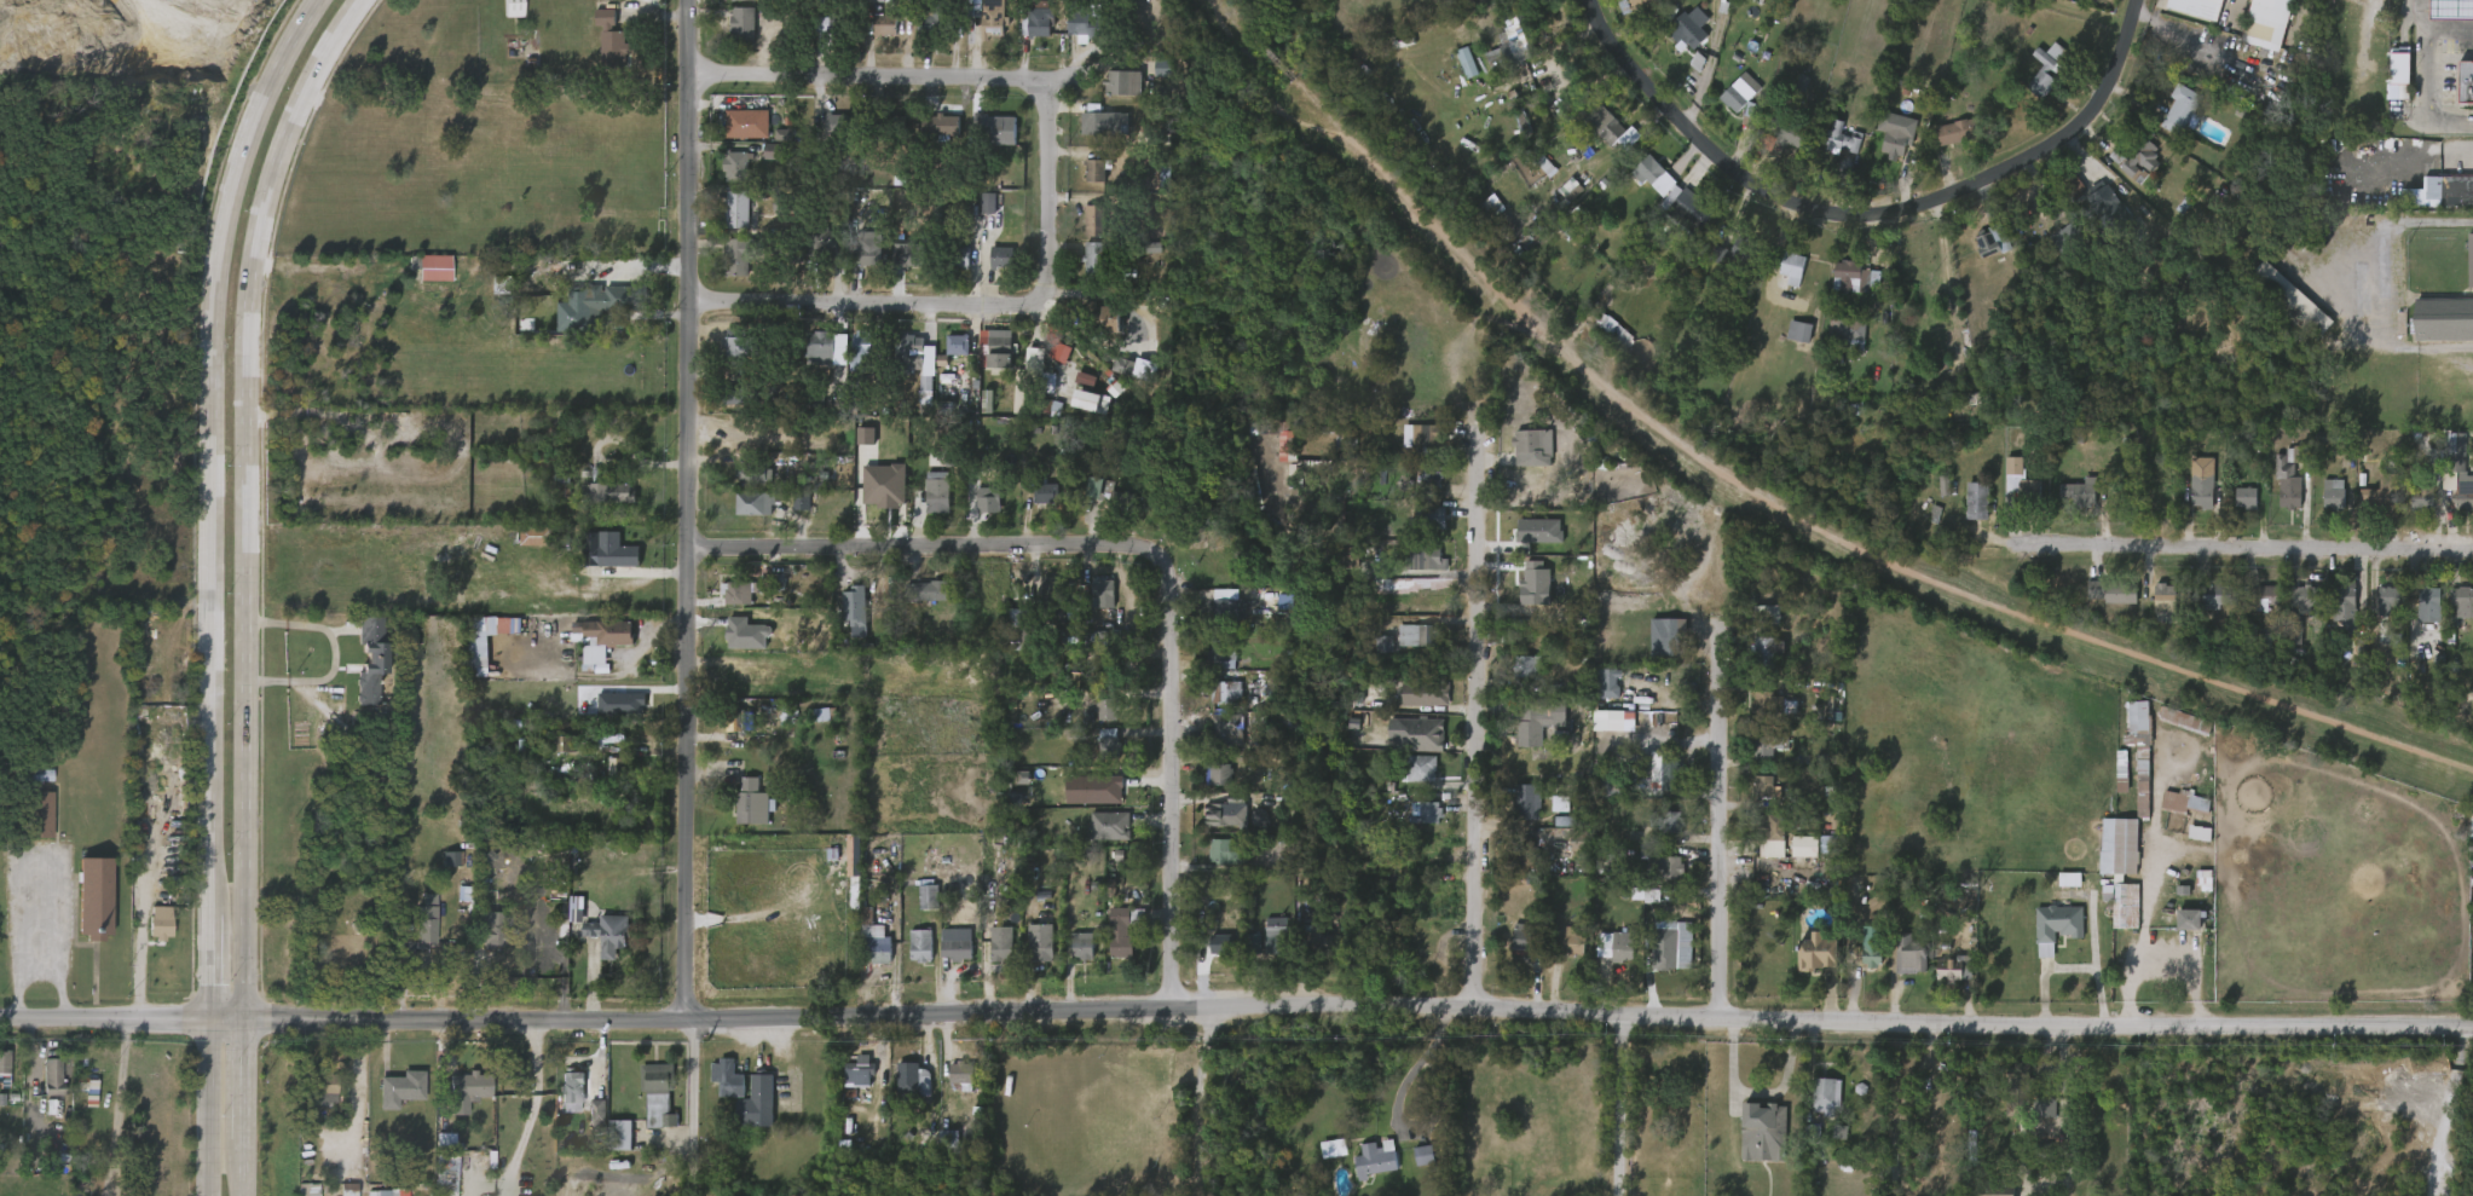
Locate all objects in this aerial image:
building: (1479, 1)
building: (1647, 2)
building: (736, 5)
building: (867, 6)
building: (2192, 7)
building: (514, 8)
building: (1630, 10)
building: (2266, 10)
building: (2449, 10)
gas station: (2449, 10)
building: (502, 13)
building: (990, 17)
building: (932, 18)
building: (1035, 19)
building: (1093, 23)
building: (743, 24)
road: (2432, 29)
building: (981, 30)
building: (1687, 30)
building: (918, 33)
building: (1025, 34)
building: (732, 35)
building: (814, 35)
building: (873, 36)
building: (1068, 39)
building: (1515, 39)
building: (611, 50)
building: (1501, 56)
building: (2047, 69)
building: (2397, 73)
building: (1455, 74)
road: (895, 80)
building: (2466, 80)
building: (2033, 81)
building: (1120, 83)
building: (1743, 91)
building: (1111, 94)
road: (2421, 96)
building: (2182, 110)
building: (1753, 114)
building: (735, 115)
building: (2168, 120)
building: (1100, 121)
building: (1610, 125)
building: (889, 126)
building: (838, 127)
building: (936, 127)
building: (996, 128)
building: (1957, 132)
building: (1780, 133)
building: (1093, 134)
building: (735, 135)
building: (824, 135)
building: (929, 137)
building: (1843, 137)
building: (1597, 138)
building: (988, 141)
building: (1895, 141)
building: (1943, 143)
building: (772, 145)
building: (1779, 148)
building: (1828, 149)
building: (2137, 160)
building: (763, 162)
building: (733, 166)
building: (1098, 169)
building: (2130, 172)
building: (1656, 173)
building: (723, 178)
building: (2073, 180)
building: (1084, 181)
building: (1641, 186)
building: (2449, 187)
building: (867, 196)
building: (738, 208)
building: (2111, 209)
building: (859, 213)
building: (1692, 213)
road: (1873, 214)
building: (977, 216)
building: (2094, 218)
building: (1677, 219)
building: (726, 221)
building: (1093, 221)
building: (1567, 226)
building: (1082, 231)
building: (2069, 236)
building: (1995, 239)
building: (824, 243)
building: (2055, 248)
building: (862, 250)
building: (1733, 252)
building: (1978, 253)
building: (908, 254)
building: (736, 256)
building: (1097, 259)
building: (2468, 259)
road: (323, 262)
building: (1724, 262)
building: (1792, 267)
building: (726, 268)
building: (951, 268)
building: (1082, 268)
building: (854, 270)
building: (989, 270)
building: (1857, 276)
building: (421, 278)
building: (1780, 279)
building: (1841, 289)
building: (2284, 296)
building: (601, 301)
road: (989, 302)
building: (542, 305)
building: (2278, 310)
building: (587, 313)
building: (531, 317)
building: (2444, 320)
building: (1081, 325)
building: (1613, 329)
building: (1099, 330)
building: (1849, 334)
building: (1602, 342)
building: (1787, 342)
building: (738, 345)
building: (1836, 346)
building: (820, 347)
building: (1001, 348)
building: (863, 349)
building: (909, 353)
building: (726, 354)
building: (946, 356)
building: (986, 358)
building: (809, 359)
building: (1321, 424)
building: (1427, 438)
building: (1345, 441)
building: (1535, 445)
building: (854, 447)
building: (1405, 447)
building: (2294, 452)
building: (1275, 455)
building: (2452, 458)
building: (1521, 460)
building: (751, 474)
building: (556, 481)
building: (2024, 483)
building: (2201, 485)
building: (745, 486)
building: (1418, 490)
building: (2287, 490)
building: (605, 492)
building: (1042, 492)
building: (2007, 492)
building: (2084, 492)
building: (2463, 492)
building: (2420, 493)
road: (252, 495)
building: (1111, 495)
building: (2275, 495)
building: (2381, 495)
building: (940, 496)
road: (214, 497)
building: (873, 497)
building: (2189, 499)
building: (1090, 501)
building: (1980, 501)
building: (758, 503)
building: (602, 504)
building: (926, 504)
building: (1033, 504)
building: (2065, 504)
building: (2367, 504)
building: (2321, 505)
building: (2234, 509)
building: (977, 510)
building: (1965, 512)
building: (790, 514)
building: (744, 515)
building: (1426, 519)
building: (1417, 528)
building: (526, 548)
building: (617, 550)
road: (912, 550)
road: (2244, 553)
building: (1341, 556)
building: (1425, 561)
building: (601, 562)
building: (1415, 571)
building: (930, 590)
building: (739, 593)
building: (1103, 593)
building: (2111, 593)
building: (2212, 596)
building: (2298, 596)
road: (693, 597)
building: (1053, 597)
building: (2160, 597)
building: (2261, 597)
building: (2385, 600)
building: (915, 602)
building: (2458, 602)
building: (726, 605)
building: (853, 605)
building: (1091, 605)
building: (2099, 605)
building: (1226, 606)
building: (2253, 608)
building: (2292, 608)
building: (2346, 608)
building: (2151, 609)
building: (2425, 609)
building: (2375, 611)
building: (2332, 616)
building: (1217, 617)
building: (843, 622)
building: (1025, 624)
building: (608, 632)
building: (1421, 635)
building: (475, 636)
building: (497, 636)
building: (1671, 639)
building: (1405, 648)
building: (1654, 648)
building: (1769, 651)
building: (589, 652)
road: (334, 653)
building: (1220, 653)
building: (375, 658)
building: (467, 661)
building: (1755, 661)
building: (1527, 665)
building: (1211, 669)
building: (360, 670)
building: (735, 676)
building: (1515, 676)
building: (1611, 683)
building: (1224, 692)
building: (1426, 692)
building: (1595, 694)
building: (1764, 701)
building: (1214, 703)
building: (1105, 705)
building: (1414, 705)
building: (1751, 712)
building: (609, 713)
building: (1096, 718)
building: (1538, 718)
building: (2182, 718)
building: (732, 720)
building: (1224, 727)
building: (2171, 732)
building: (1526, 733)
building: (724, 734)
building: (1421, 734)
road: (1477, 734)
building: (1214, 740)
building: (1110, 743)
building: (1404, 745)
building: (1768, 745)
building: (1096, 751)
building: (2138, 752)
building: (1752, 759)
road: (1177, 763)
building: (617, 767)
building: (1423, 768)
building: (1672, 770)
building: (1219, 774)
building: (605, 779)
building: (1410, 780)
building: (1659, 780)
building: (1206, 785)
building: (29, 786)
building: (1616, 786)
building: (1768, 787)
building: (1011, 788)
building: (1752, 797)
building: (1090, 801)
building: (1526, 802)
building: (2182, 802)
building: (755, 803)
building: (740, 813)
building: (1428, 813)
building: (1515, 813)
building: (2174, 813)
building: (42, 814)
building: (1227, 815)
building: (1665, 820)
building: (1417, 824)
building: (1108, 825)
building: (30, 826)
building: (1248, 828)
building: (1552, 832)
road: (1727, 832)
building: (1772, 834)
building: (1098, 837)
building: (1808, 845)
building: (2116, 845)
building: (1762, 849)
building: (1226, 850)
building: (1527, 854)
building: (566, 857)
building: (1792, 857)
building: (847, 859)
building: (1215, 863)
building: (1664, 863)
building: (441, 869)
building: (838, 872)
building: (1653, 879)
building: (2471, 882)
building: (929, 897)
building: (94, 899)
building: (2467, 901)
building: (2122, 906)
road: (143, 907)
building: (917, 908)
building: (2110, 915)
building: (565, 919)
building: (2184, 920)
road: (39, 923)
building: (161, 923)
building: (2058, 923)
building: (426, 924)
building: (872, 924)
building: (1126, 929)
building: (493, 930)
building: (2176, 930)
building: (600, 932)
building: (150, 934)
building: (1522, 937)
building: (2044, 937)
building: (1275, 938)
building: (1317, 938)
building: (411, 940)
building: (481, 940)
building: (1039, 941)
building: (1000, 942)
building: (1574, 942)
building: (1109, 943)
building: (1217, 943)
building: (1081, 944)
building: (921, 946)
building: (1265, 946)
building: (1617, 947)
building: (1871, 947)
building: (1512, 948)
building: (958, 949)
building: (880, 953)
building: (1029, 953)
building: (990, 954)
building: (1242, 954)
building: (1909, 954)
building: (1561, 955)
building: (865, 957)
building: (909, 957)
building: (1070, 957)
building: (1604, 958)
building: (1652, 959)
building: (1208, 960)
building: (1859, 964)
building: (1805, 965)
building: (1899, 966)
building: (1957, 970)
road: (39, 976)
building: (1941, 980)
road: (1236, 1006)
road: (1420, 1063)
building: (859, 1070)
building: (964, 1073)
building: (52, 1075)
building: (727, 1077)
building: (911, 1081)
building: (848, 1084)
building: (468, 1085)
building: (324, 1086)
building: (570, 1086)
building: (949, 1086)
building: (42, 1087)
building: (2021, 1087)
building: (398, 1088)
building: (716, 1090)
building: (655, 1094)
building: (1827, 1096)
building: (460, 1097)
road: (1206, 1099)
building: (757, 1102)
building: (561, 1103)
road: (532, 1104)
road: (208, 1105)
road: (242, 1105)
building: (314, 1105)
road: (1625, 1105)
building: (1815, 1105)
road: (109, 1107)
building: (746, 1115)
building: (2034, 1116)
building: (585, 1123)
building: (1763, 1127)
building: (620, 1133)
building: (608, 1145)
building: (937, 1148)
building: (1322, 1159)
building: (1374, 1159)
building: (1412, 1166)
building: (447, 1173)
building: (435, 1181)
building: (1998, 1188)
building: (308, 1189)
building: (297, 1195)
building: (337, 1195)

